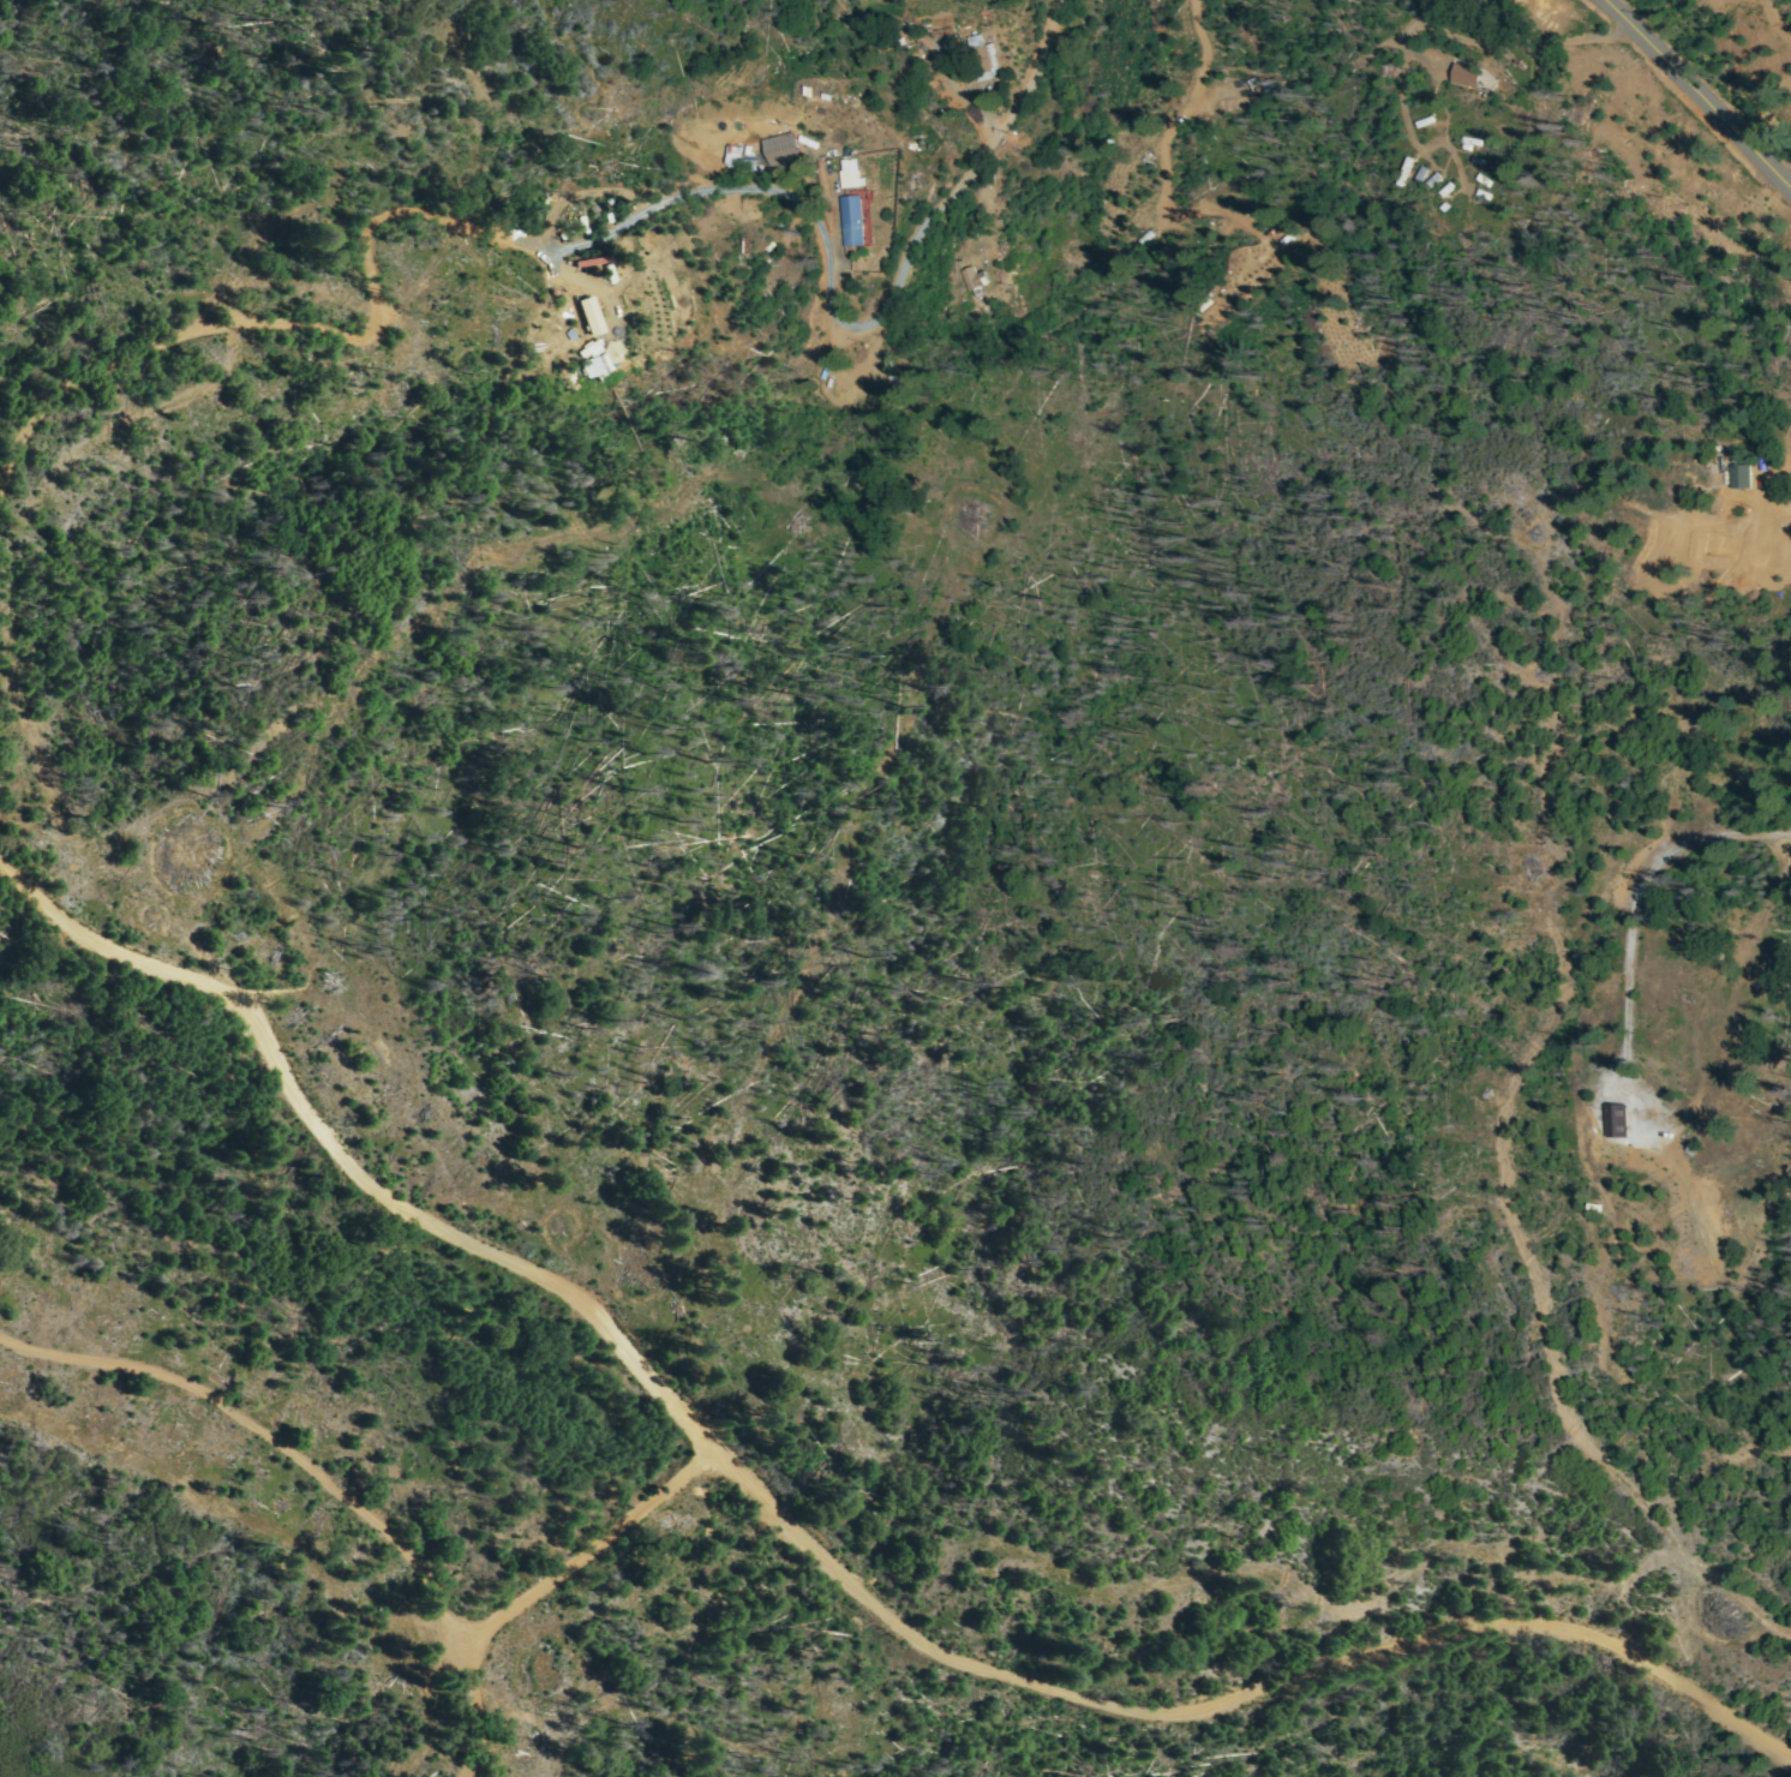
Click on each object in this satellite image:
building: (1461, 78)
building: (1257, 90)
road: (1700, 94)
building: (745, 124)
building: (1427, 125)
building: (1472, 145)
building: (786, 148)
building: (1486, 161)
building: (1400, 172)
building: (859, 174)
building: (850, 179)
building: (1428, 180)
building: (1480, 181)
building: (1443, 187)
road: (689, 198)
building: (859, 221)
building: (1154, 239)
building: (978, 279)
building: (594, 317)
building: (604, 367)
building: (1735, 475)
building: (1742, 498)
building: (1622, 1121)
road: (321, 1480)
road: (813, 1536)
road: (599, 1556)

